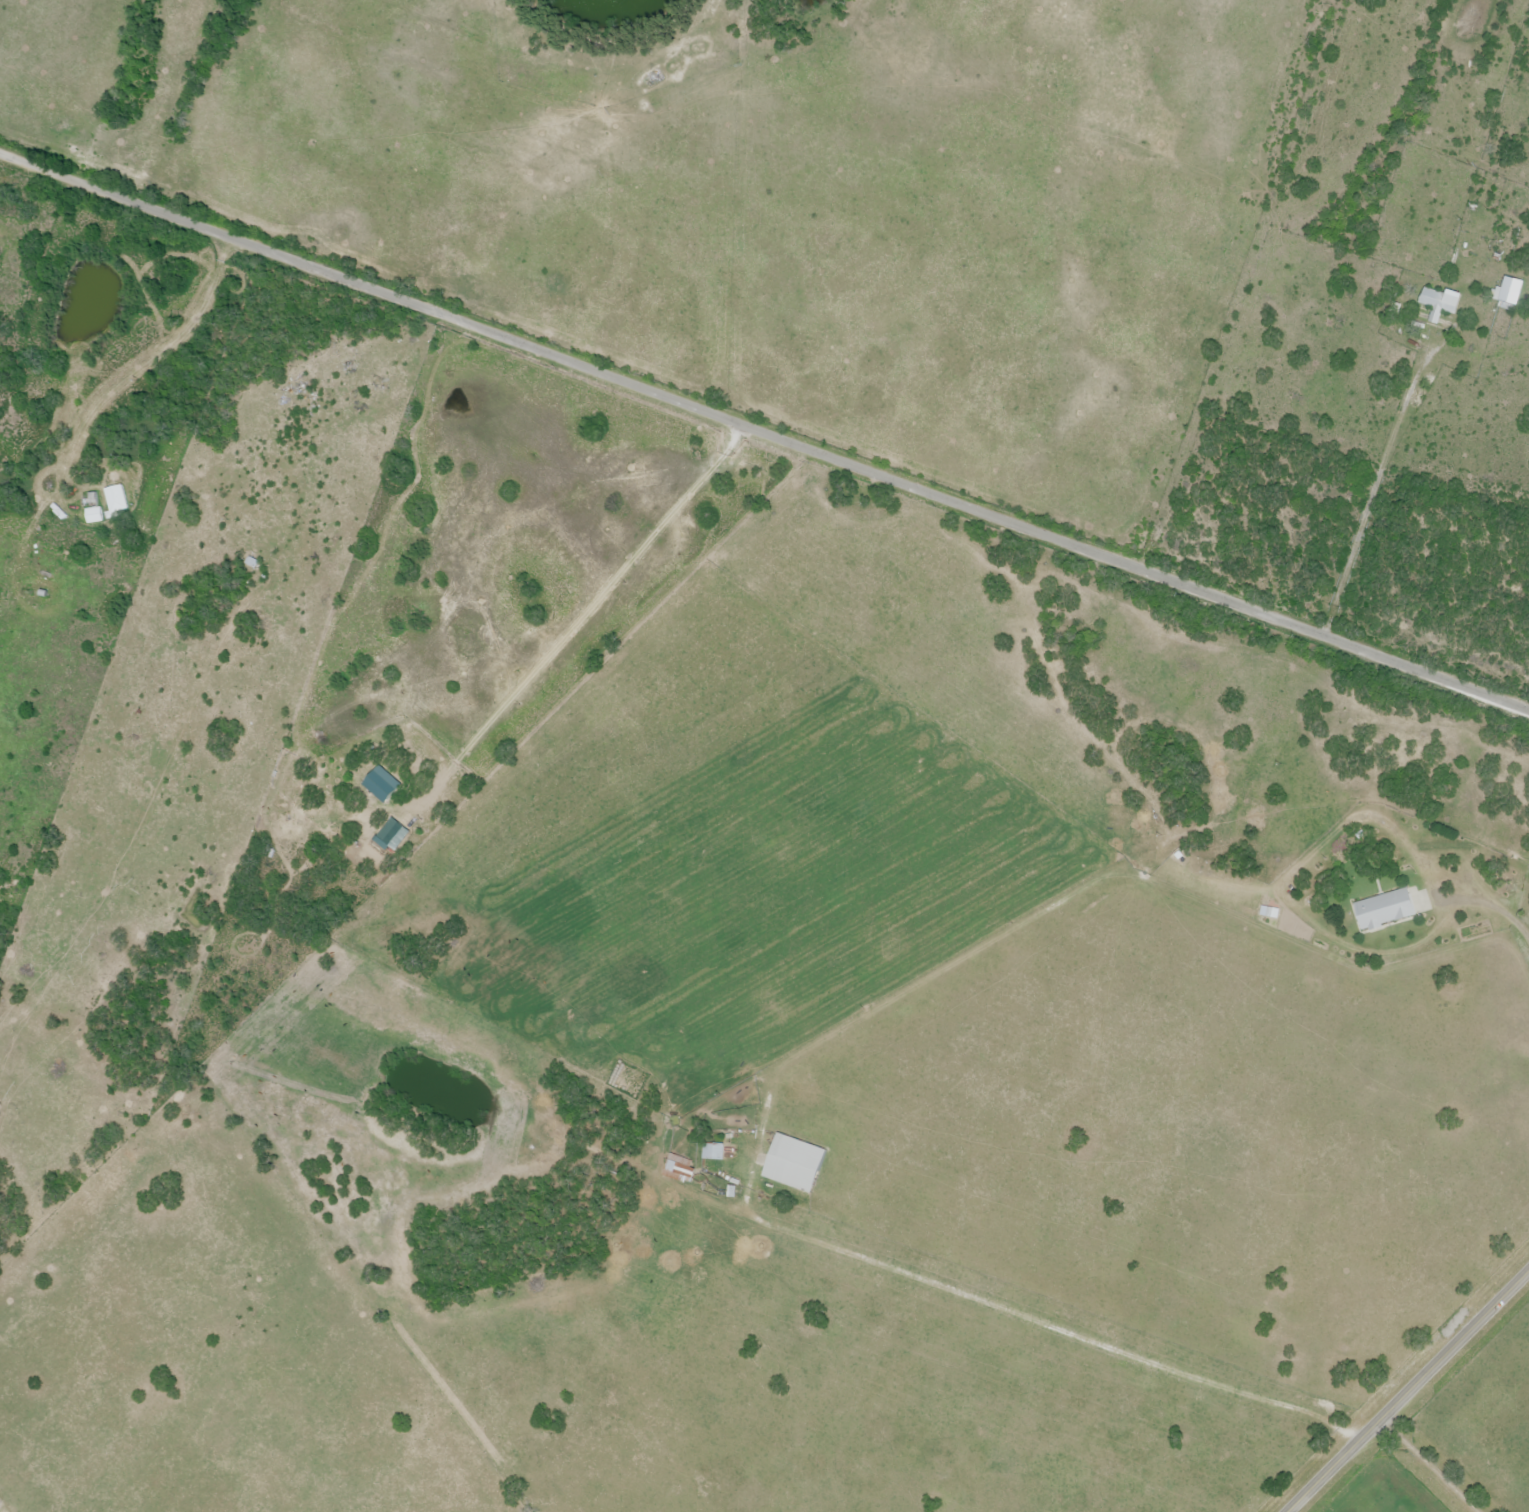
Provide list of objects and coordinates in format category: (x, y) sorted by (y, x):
building: (1509, 293)
building: (1439, 303)
building: (61, 390)
road: (764, 433)
road: (1374, 482)
building: (115, 499)
building: (251, 563)
building: (384, 776)
building: (1384, 911)
building: (712, 1153)
building: (793, 1164)
building: (677, 1169)
road: (1013, 1308)
road: (1407, 1391)
road: (1427, 1465)

